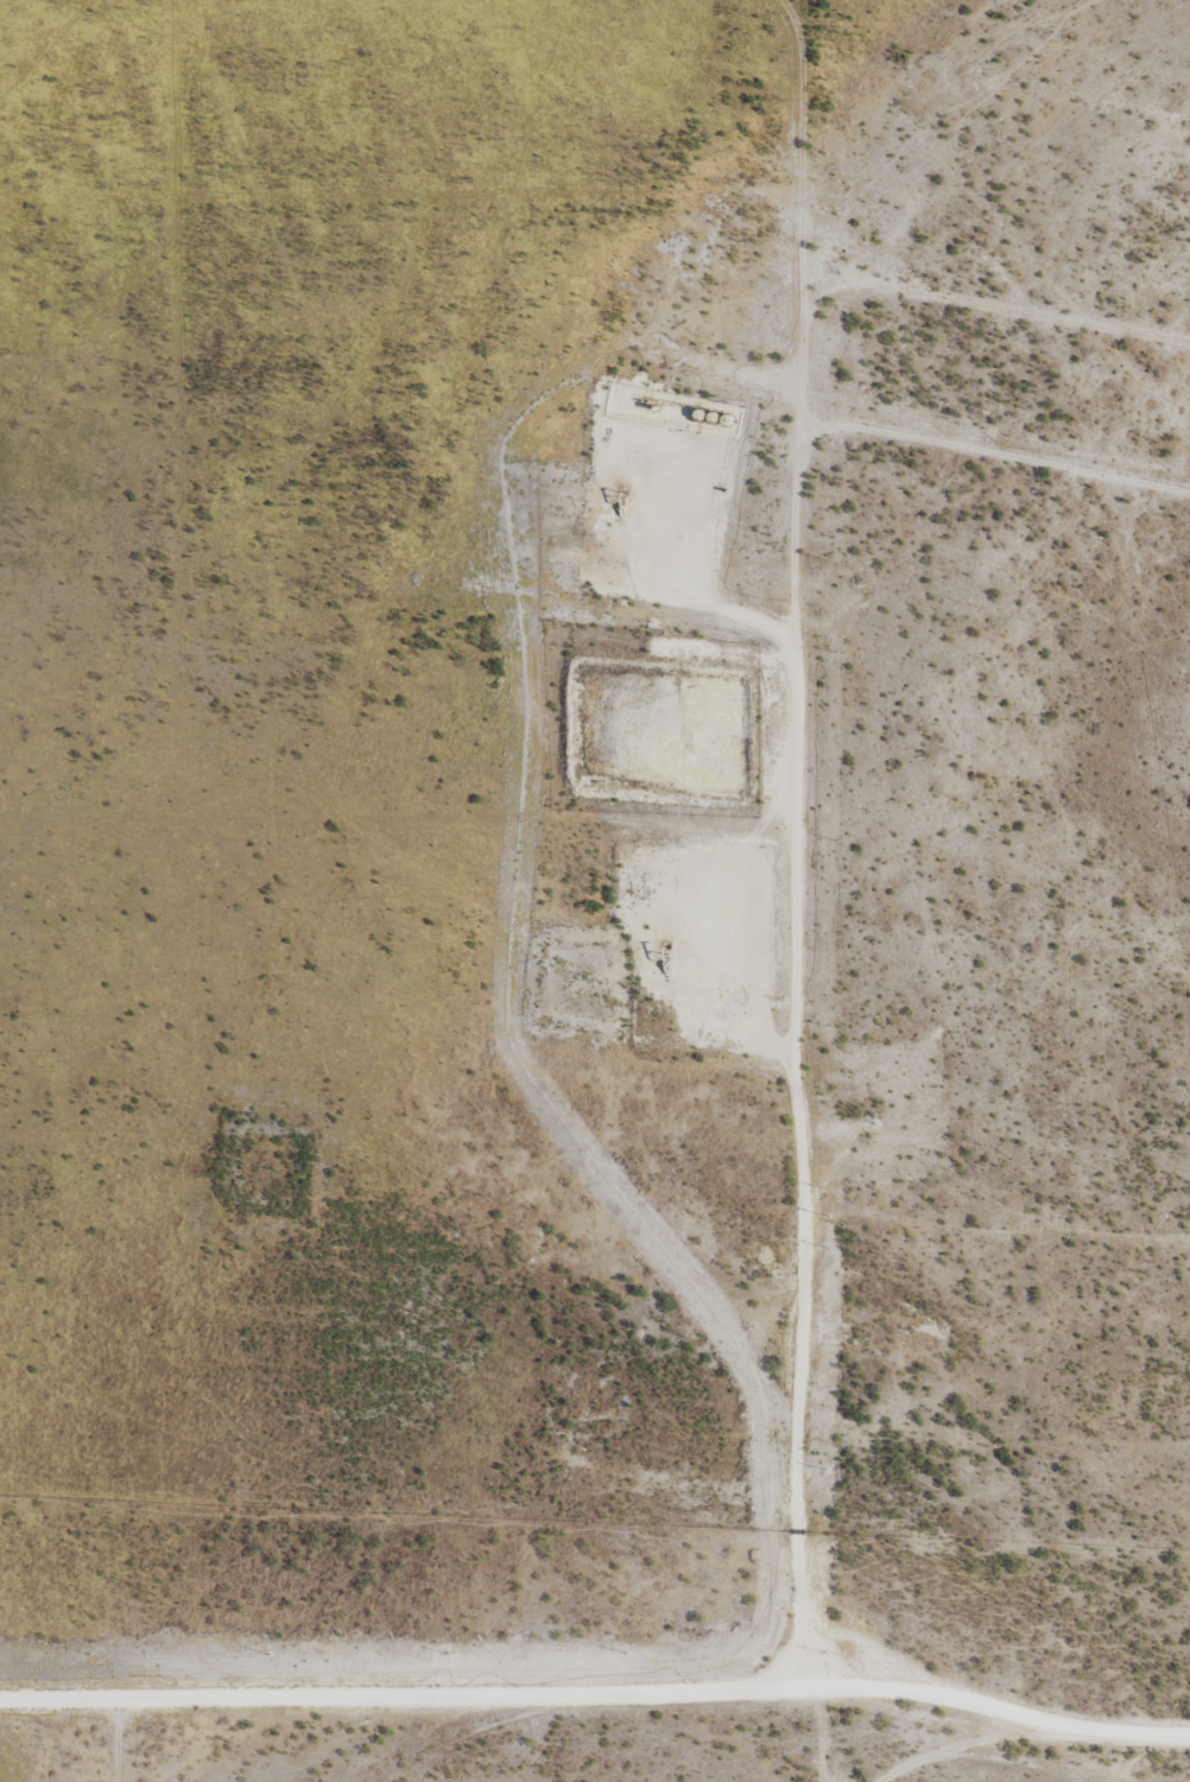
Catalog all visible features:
road: (816, 1713)
road: (907, 1721)

